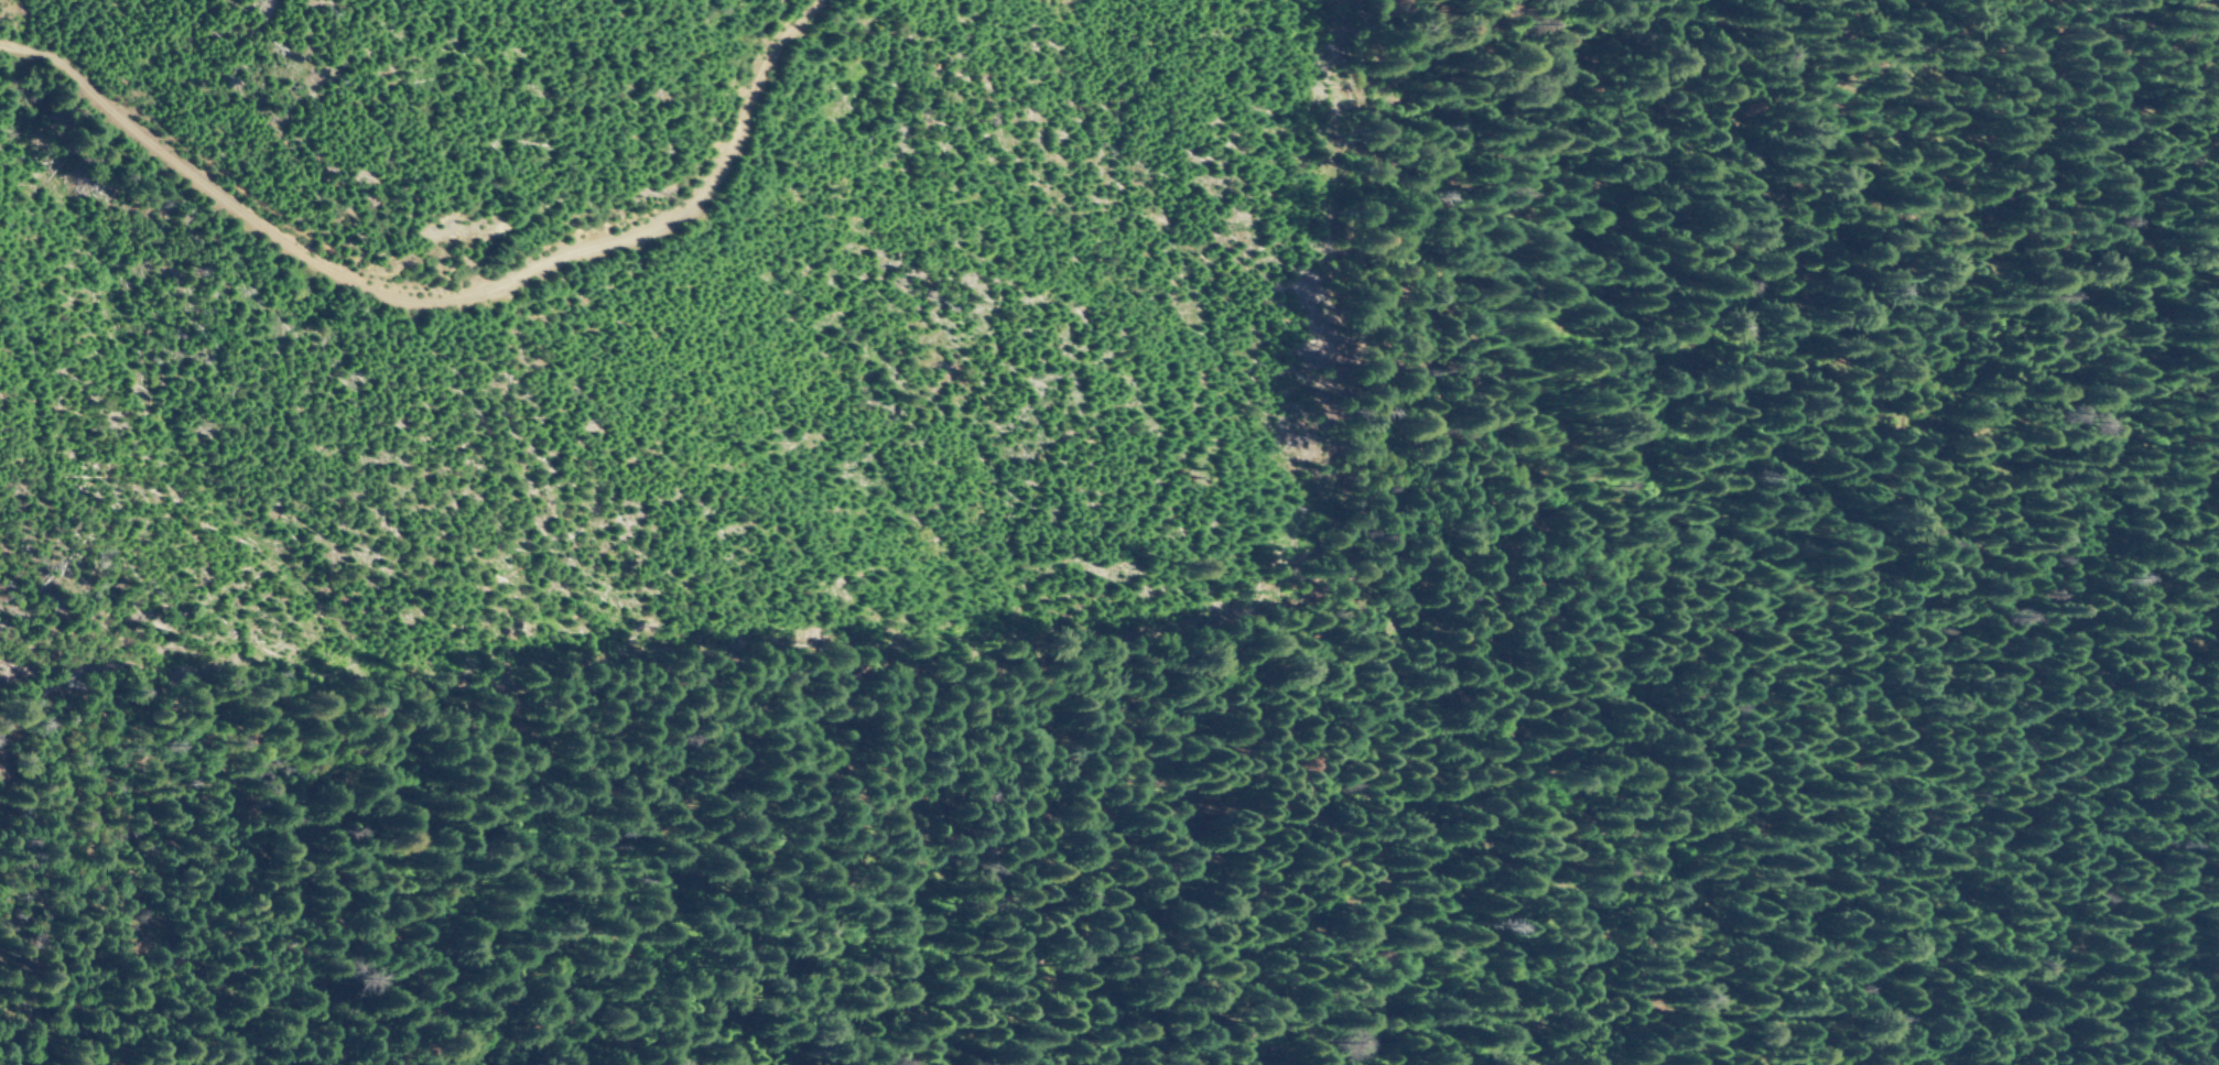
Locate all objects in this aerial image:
road: (430, 296)

